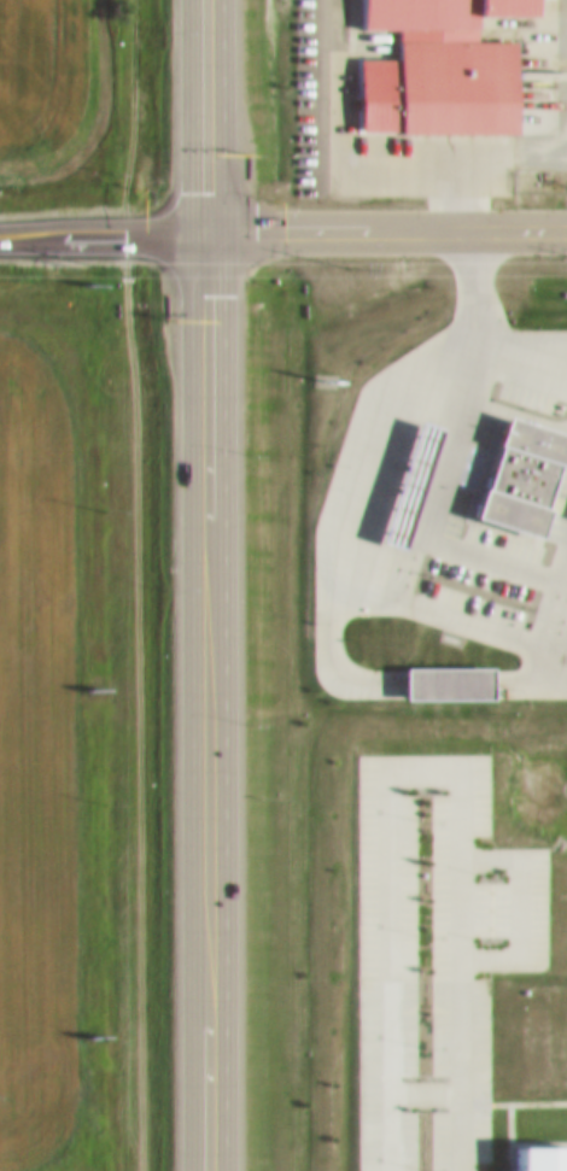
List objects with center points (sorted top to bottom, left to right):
building: (432, 81)
road: (206, 119)
road: (104, 239)
road: (387, 241)
road: (209, 705)

